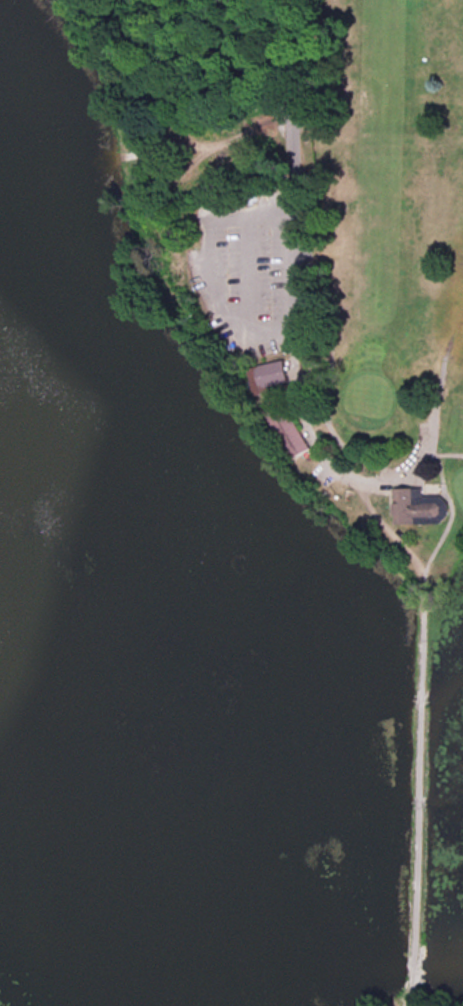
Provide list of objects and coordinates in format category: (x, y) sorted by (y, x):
road: (376, 142)
road: (205, 263)
parking lot: (246, 278)
road: (294, 296)
park: (360, 368)
building: (272, 377)
building: (291, 430)
building: (422, 508)
road: (435, 548)
road: (417, 807)
road: (412, 1005)

